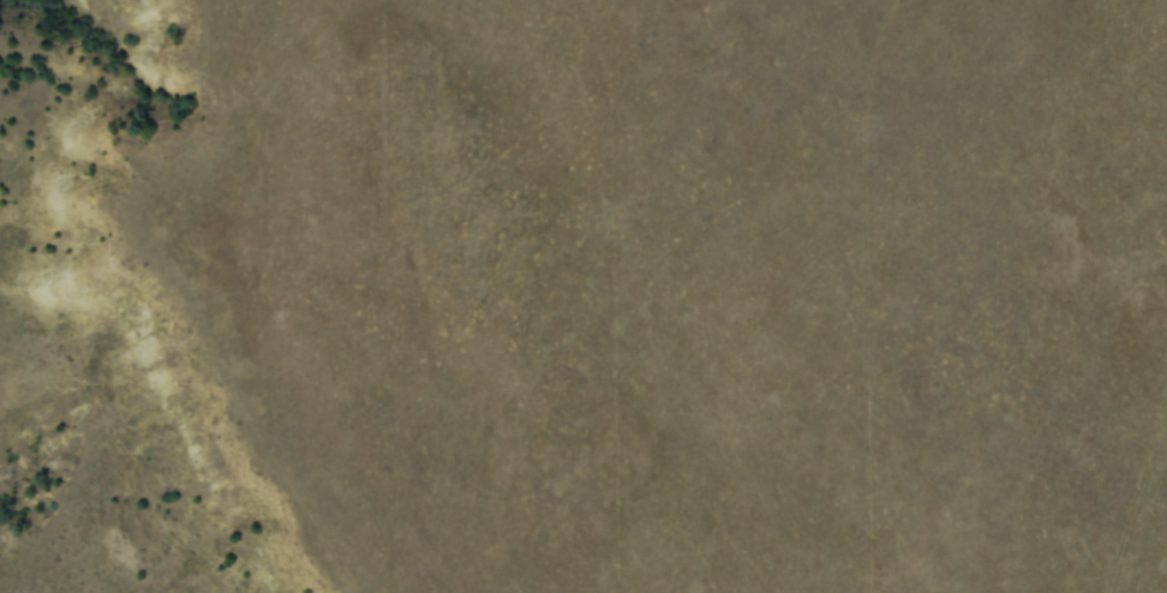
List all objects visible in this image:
road: (1145, 24)
road: (1144, 527)

